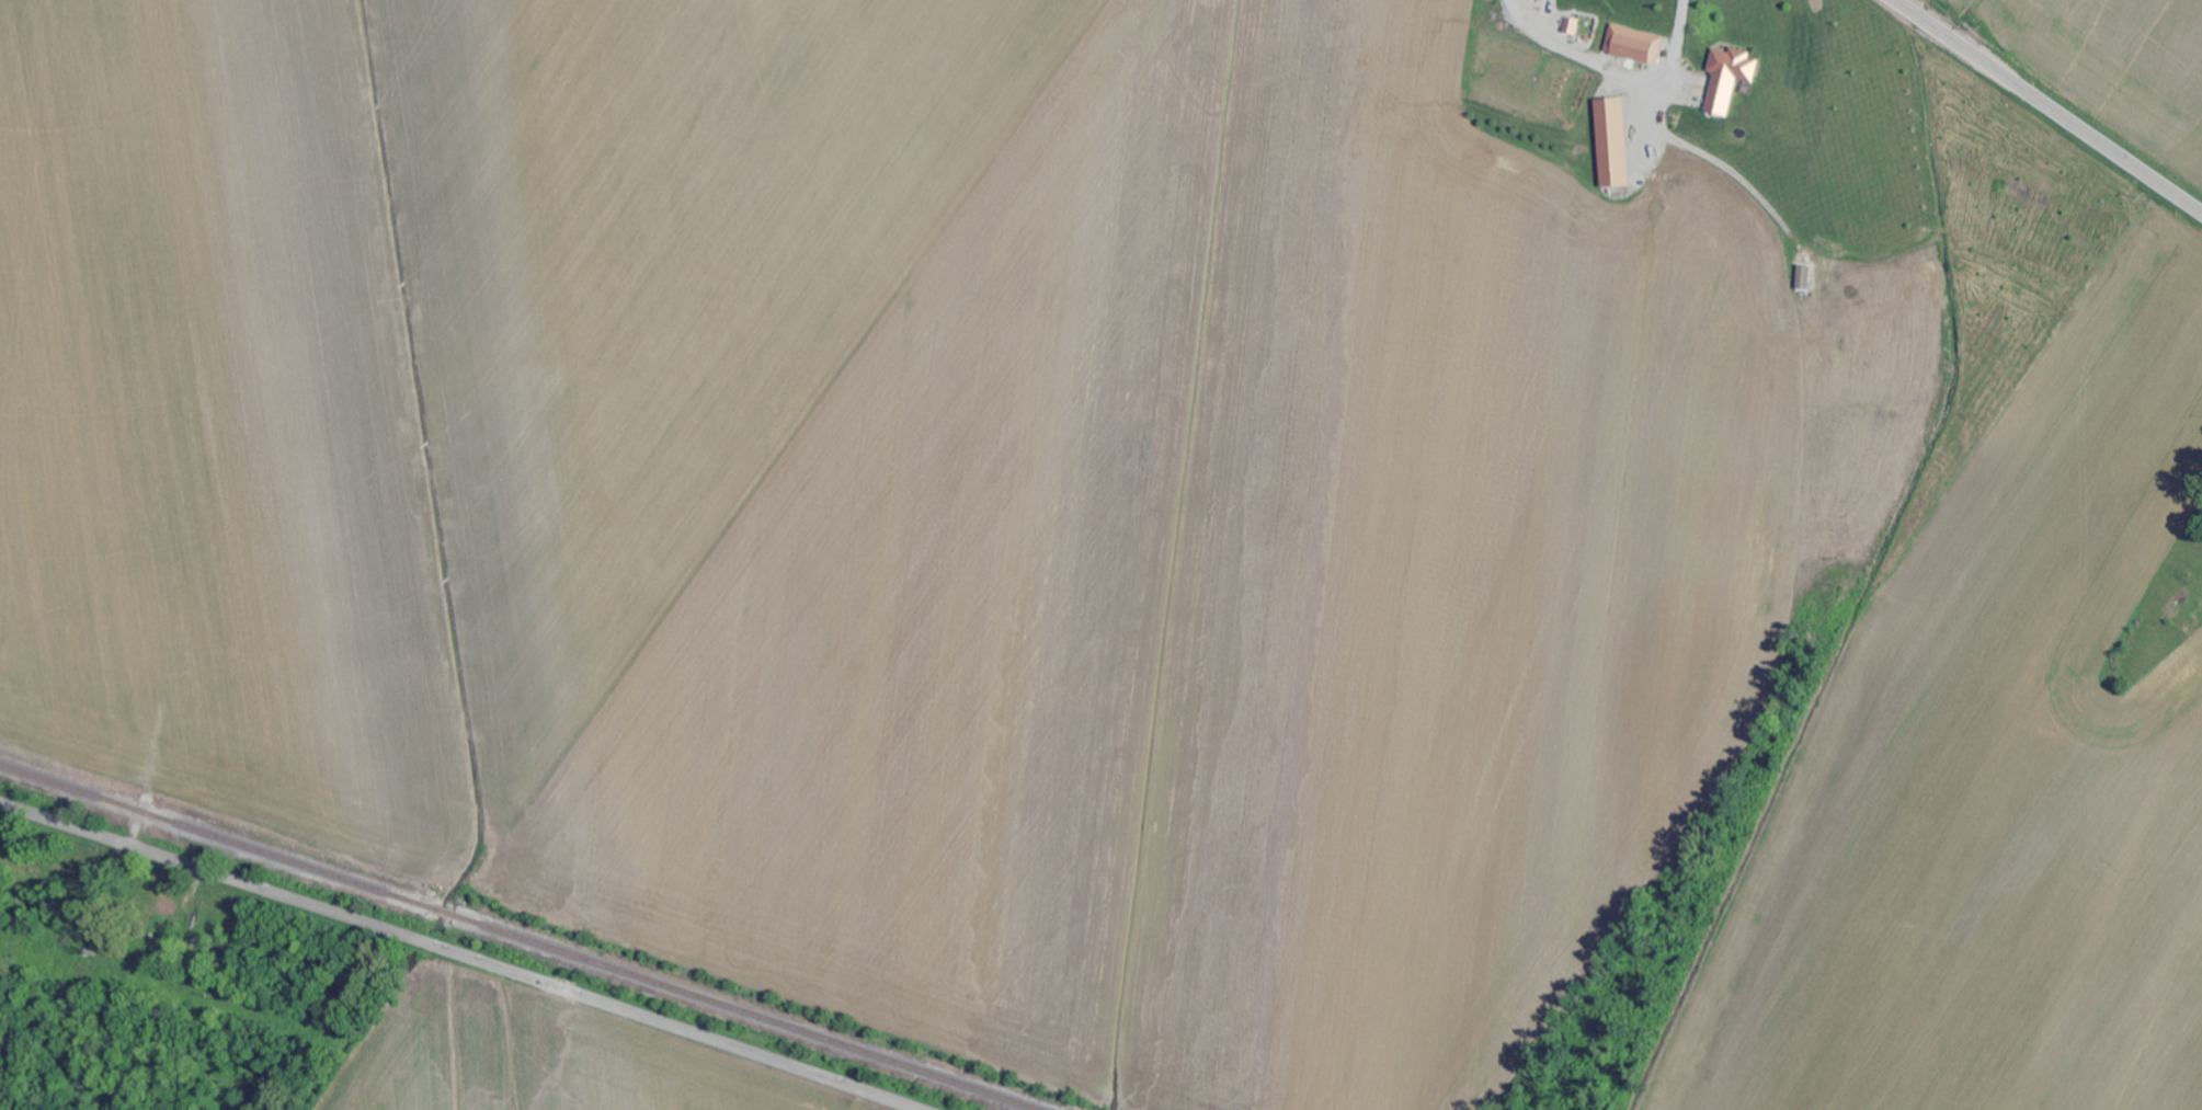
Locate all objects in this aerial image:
building: (1574, 26)
building: (1636, 45)
road: (1618, 73)
building: (1732, 80)
road: (2049, 106)
building: (1615, 144)
building: (1806, 278)
railway: (216, 836)
railway: (444, 913)
road: (460, 955)
railway: (748, 1014)

